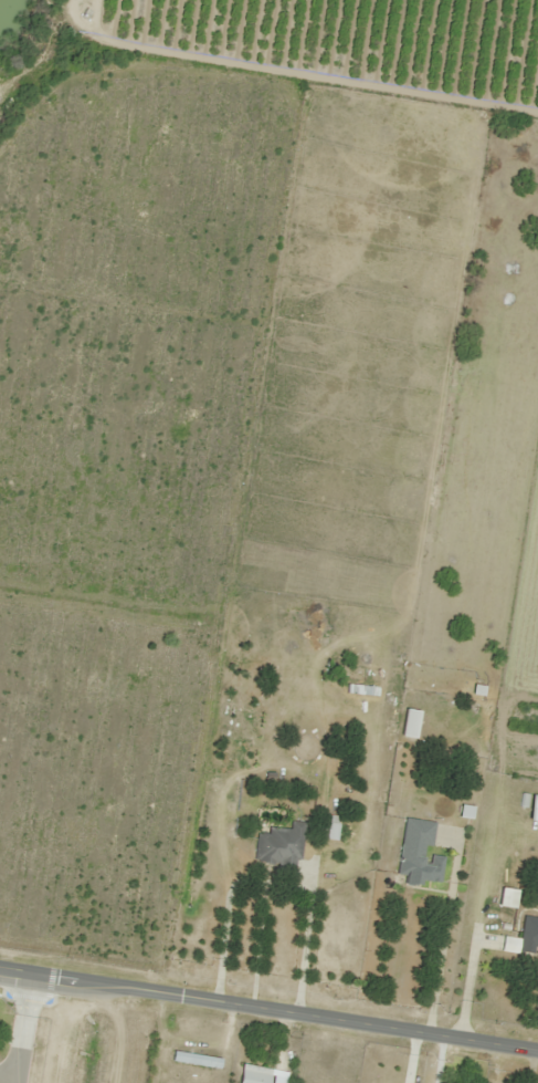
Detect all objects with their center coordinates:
building: (278, 846)
building: (418, 854)
building: (528, 934)
road: (268, 1011)
building: (194, 1059)
building: (251, 1074)

